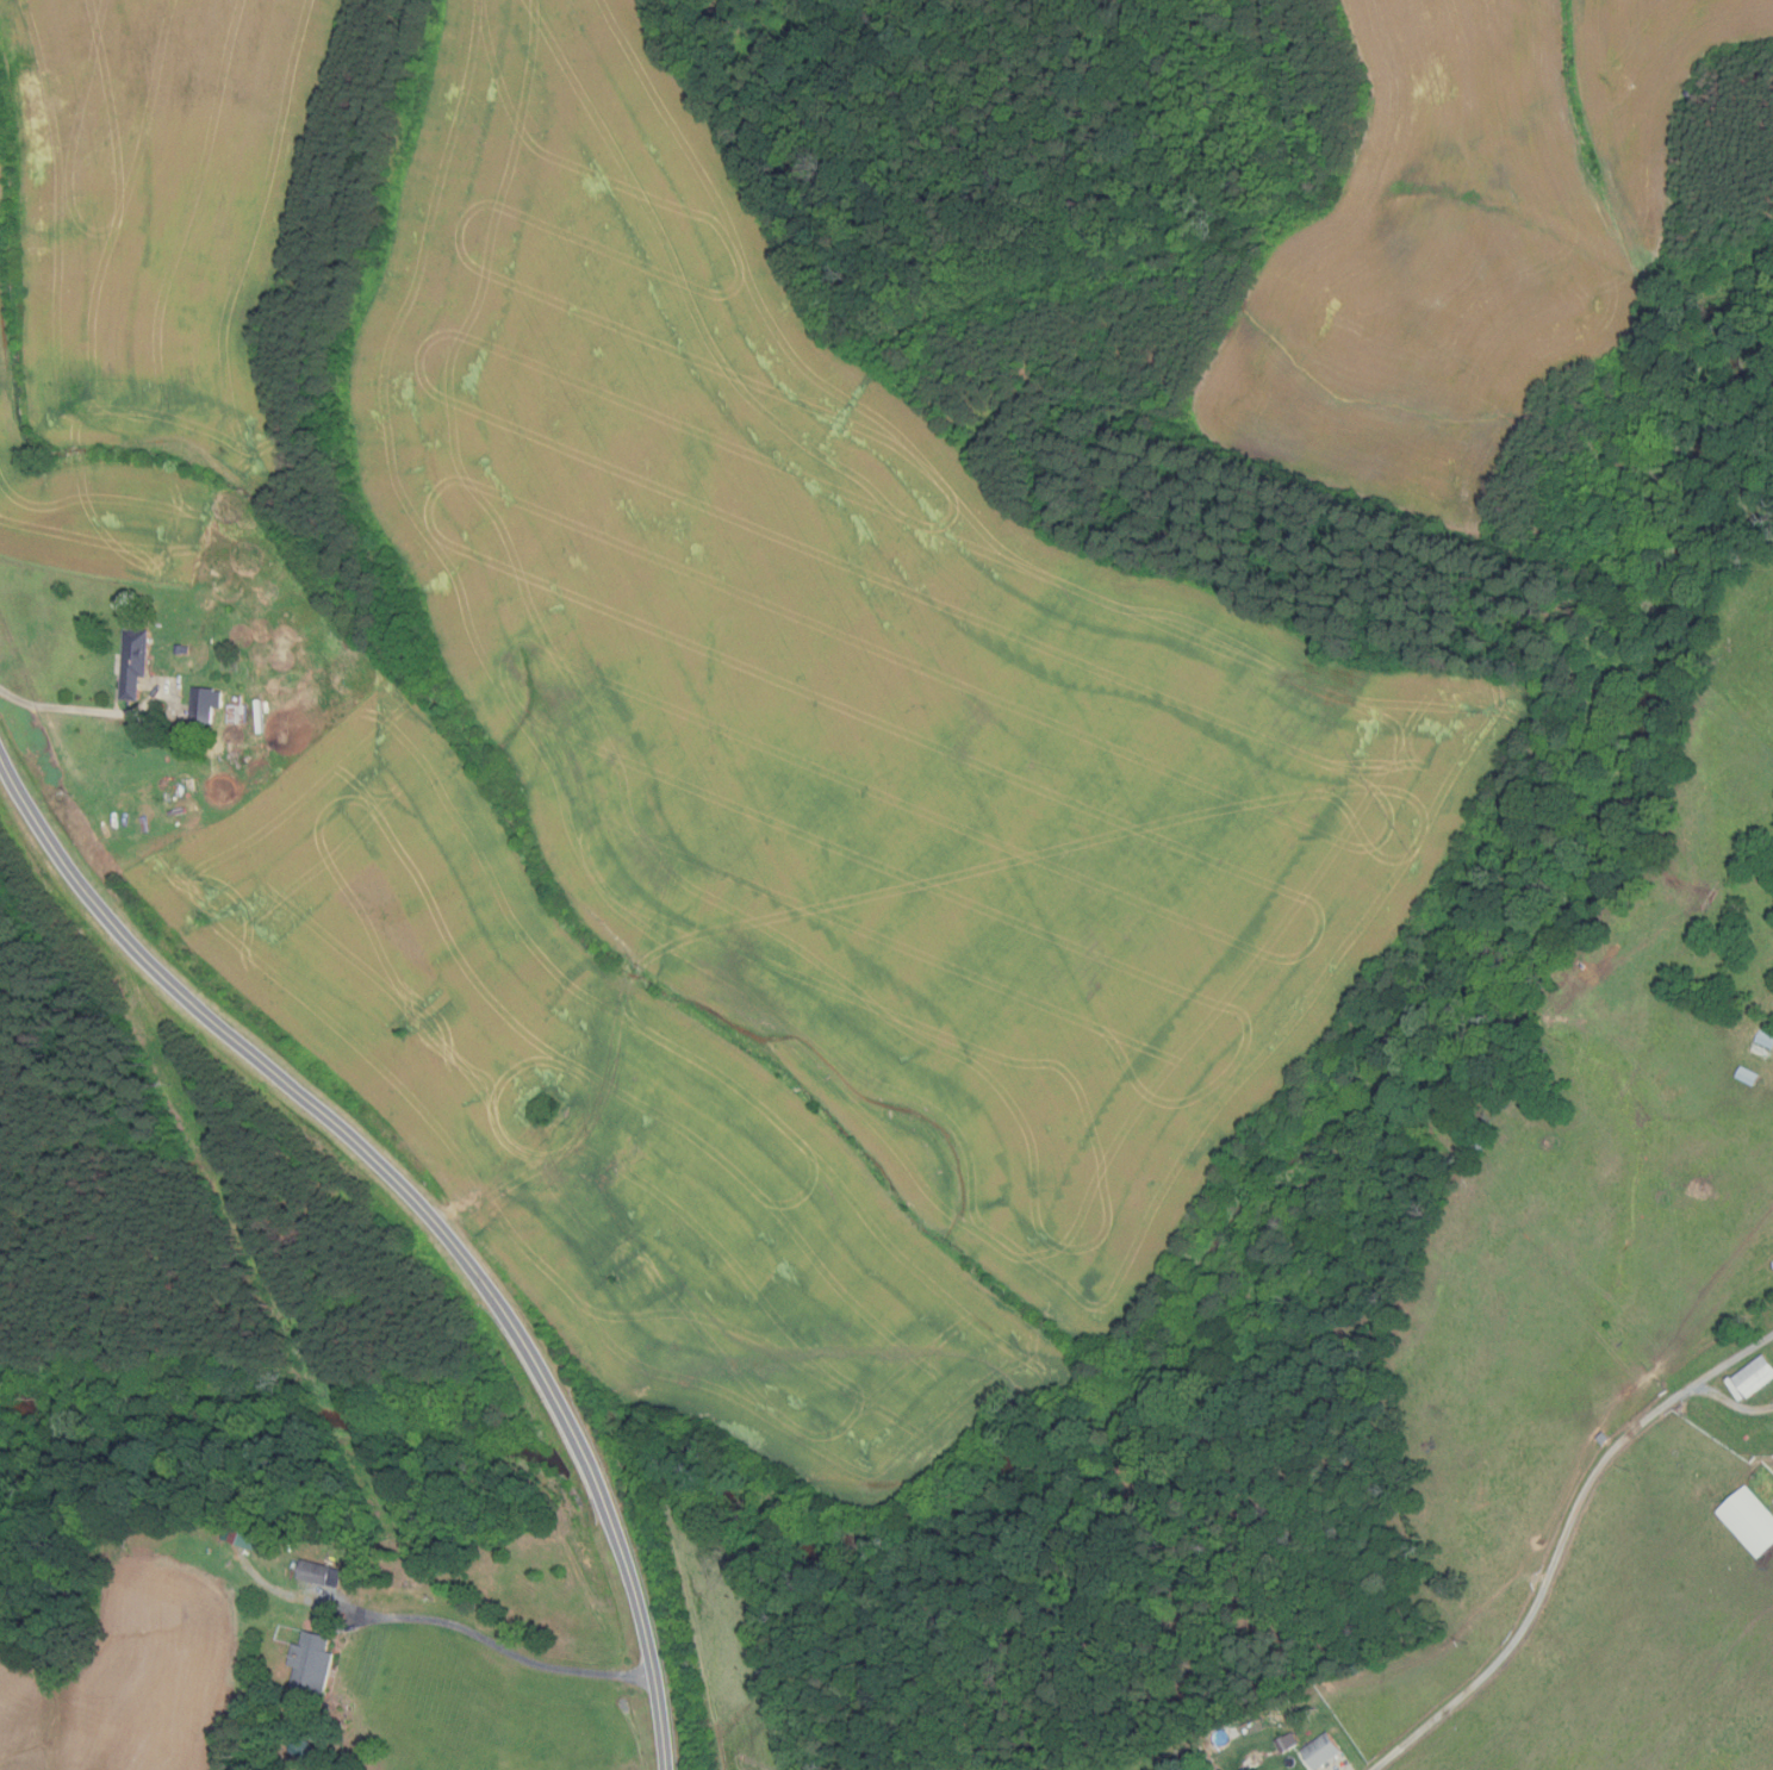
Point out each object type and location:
crop: (1458, 251)
building: (183, 648)
building: (138, 662)
crop: (867, 690)
building: (206, 704)
road: (81, 710)
building: (239, 713)
crop: (424, 808)
building: (1760, 1048)
building: (1747, 1074)
building: (1541, 1089)
building: (1478, 1142)
road: (423, 1208)
building: (1754, 1376)
road: (1732, 1402)
building: (1606, 1438)
building: (1749, 1520)
building: (244, 1534)
road: (1561, 1540)
building: (322, 1572)
road: (515, 1654)
building: (316, 1663)
crop: (133, 1682)
building: (1286, 1741)
building: (309, 1750)
building: (1320, 1750)
road: (1335, 1769)

